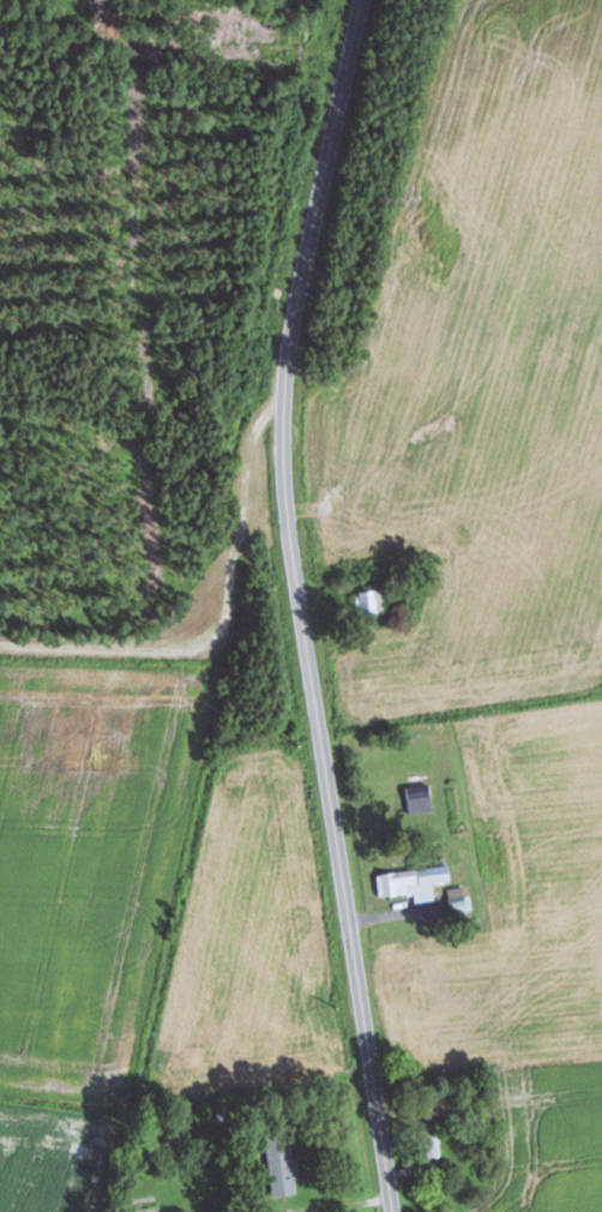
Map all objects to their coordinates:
building: (282, 12)
building: (367, 602)
road: (294, 605)
road: (167, 642)
building: (411, 882)
building: (434, 1142)
building: (281, 1165)

